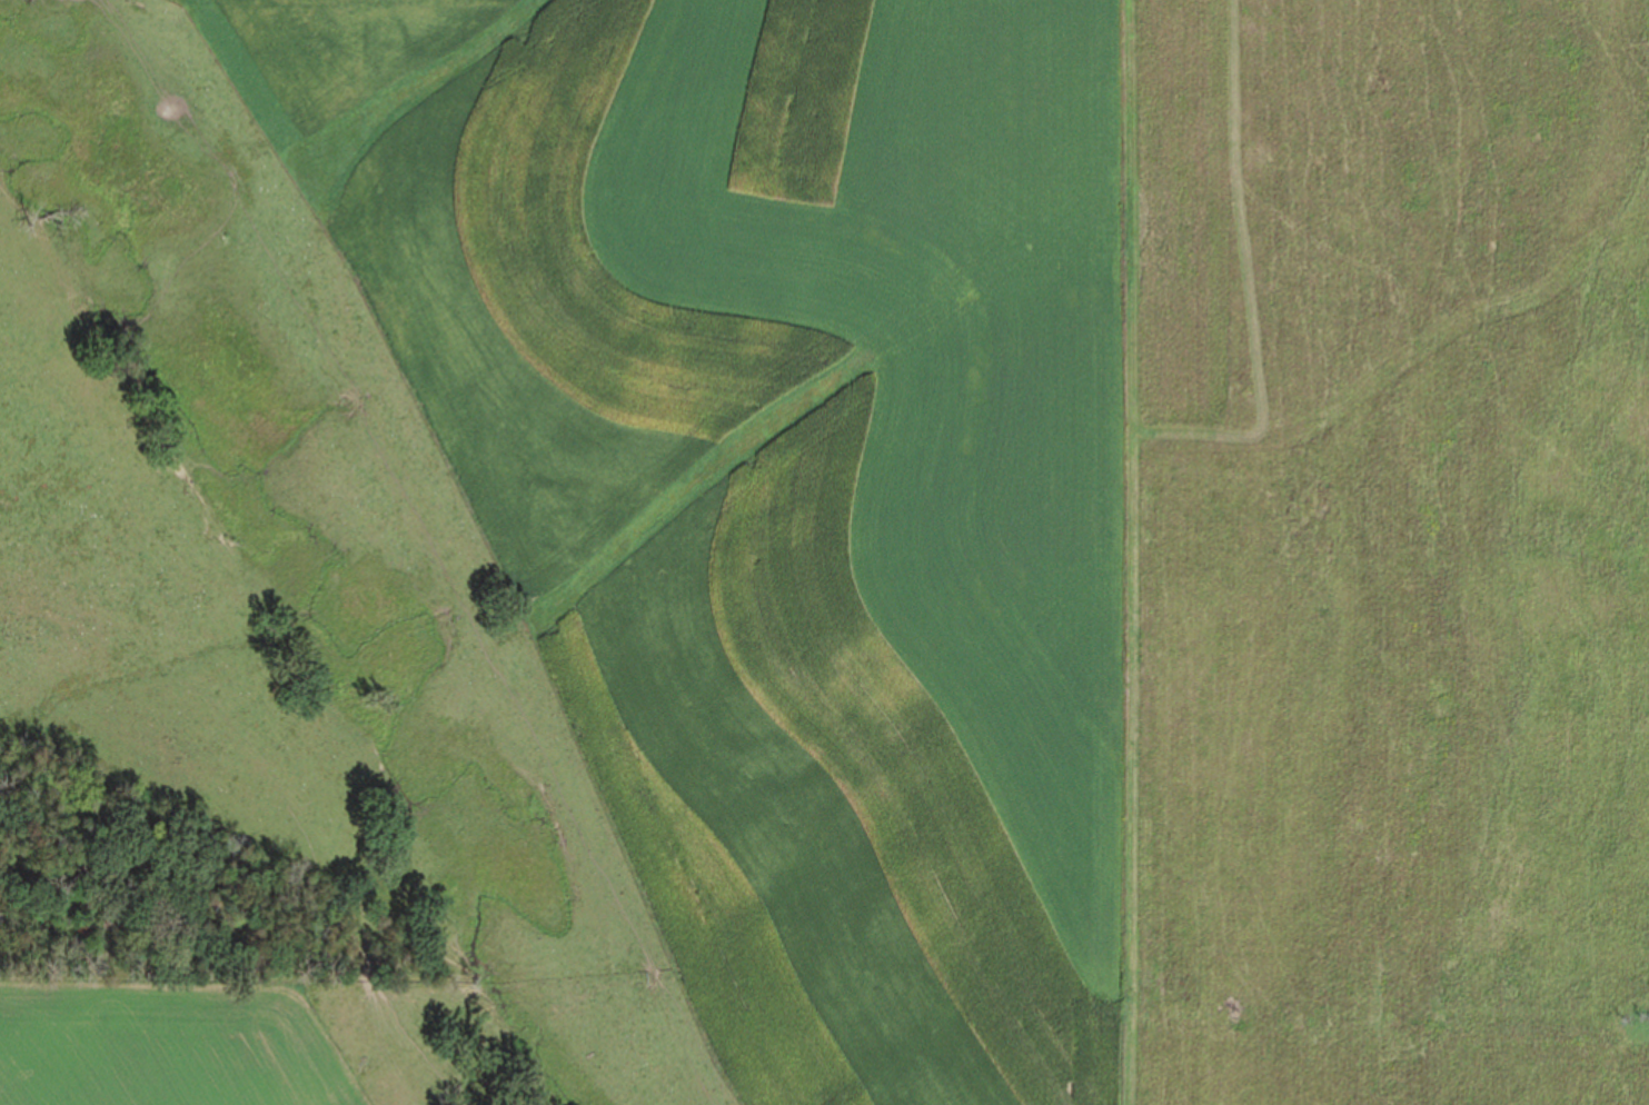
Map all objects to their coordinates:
road: (1136, 552)

